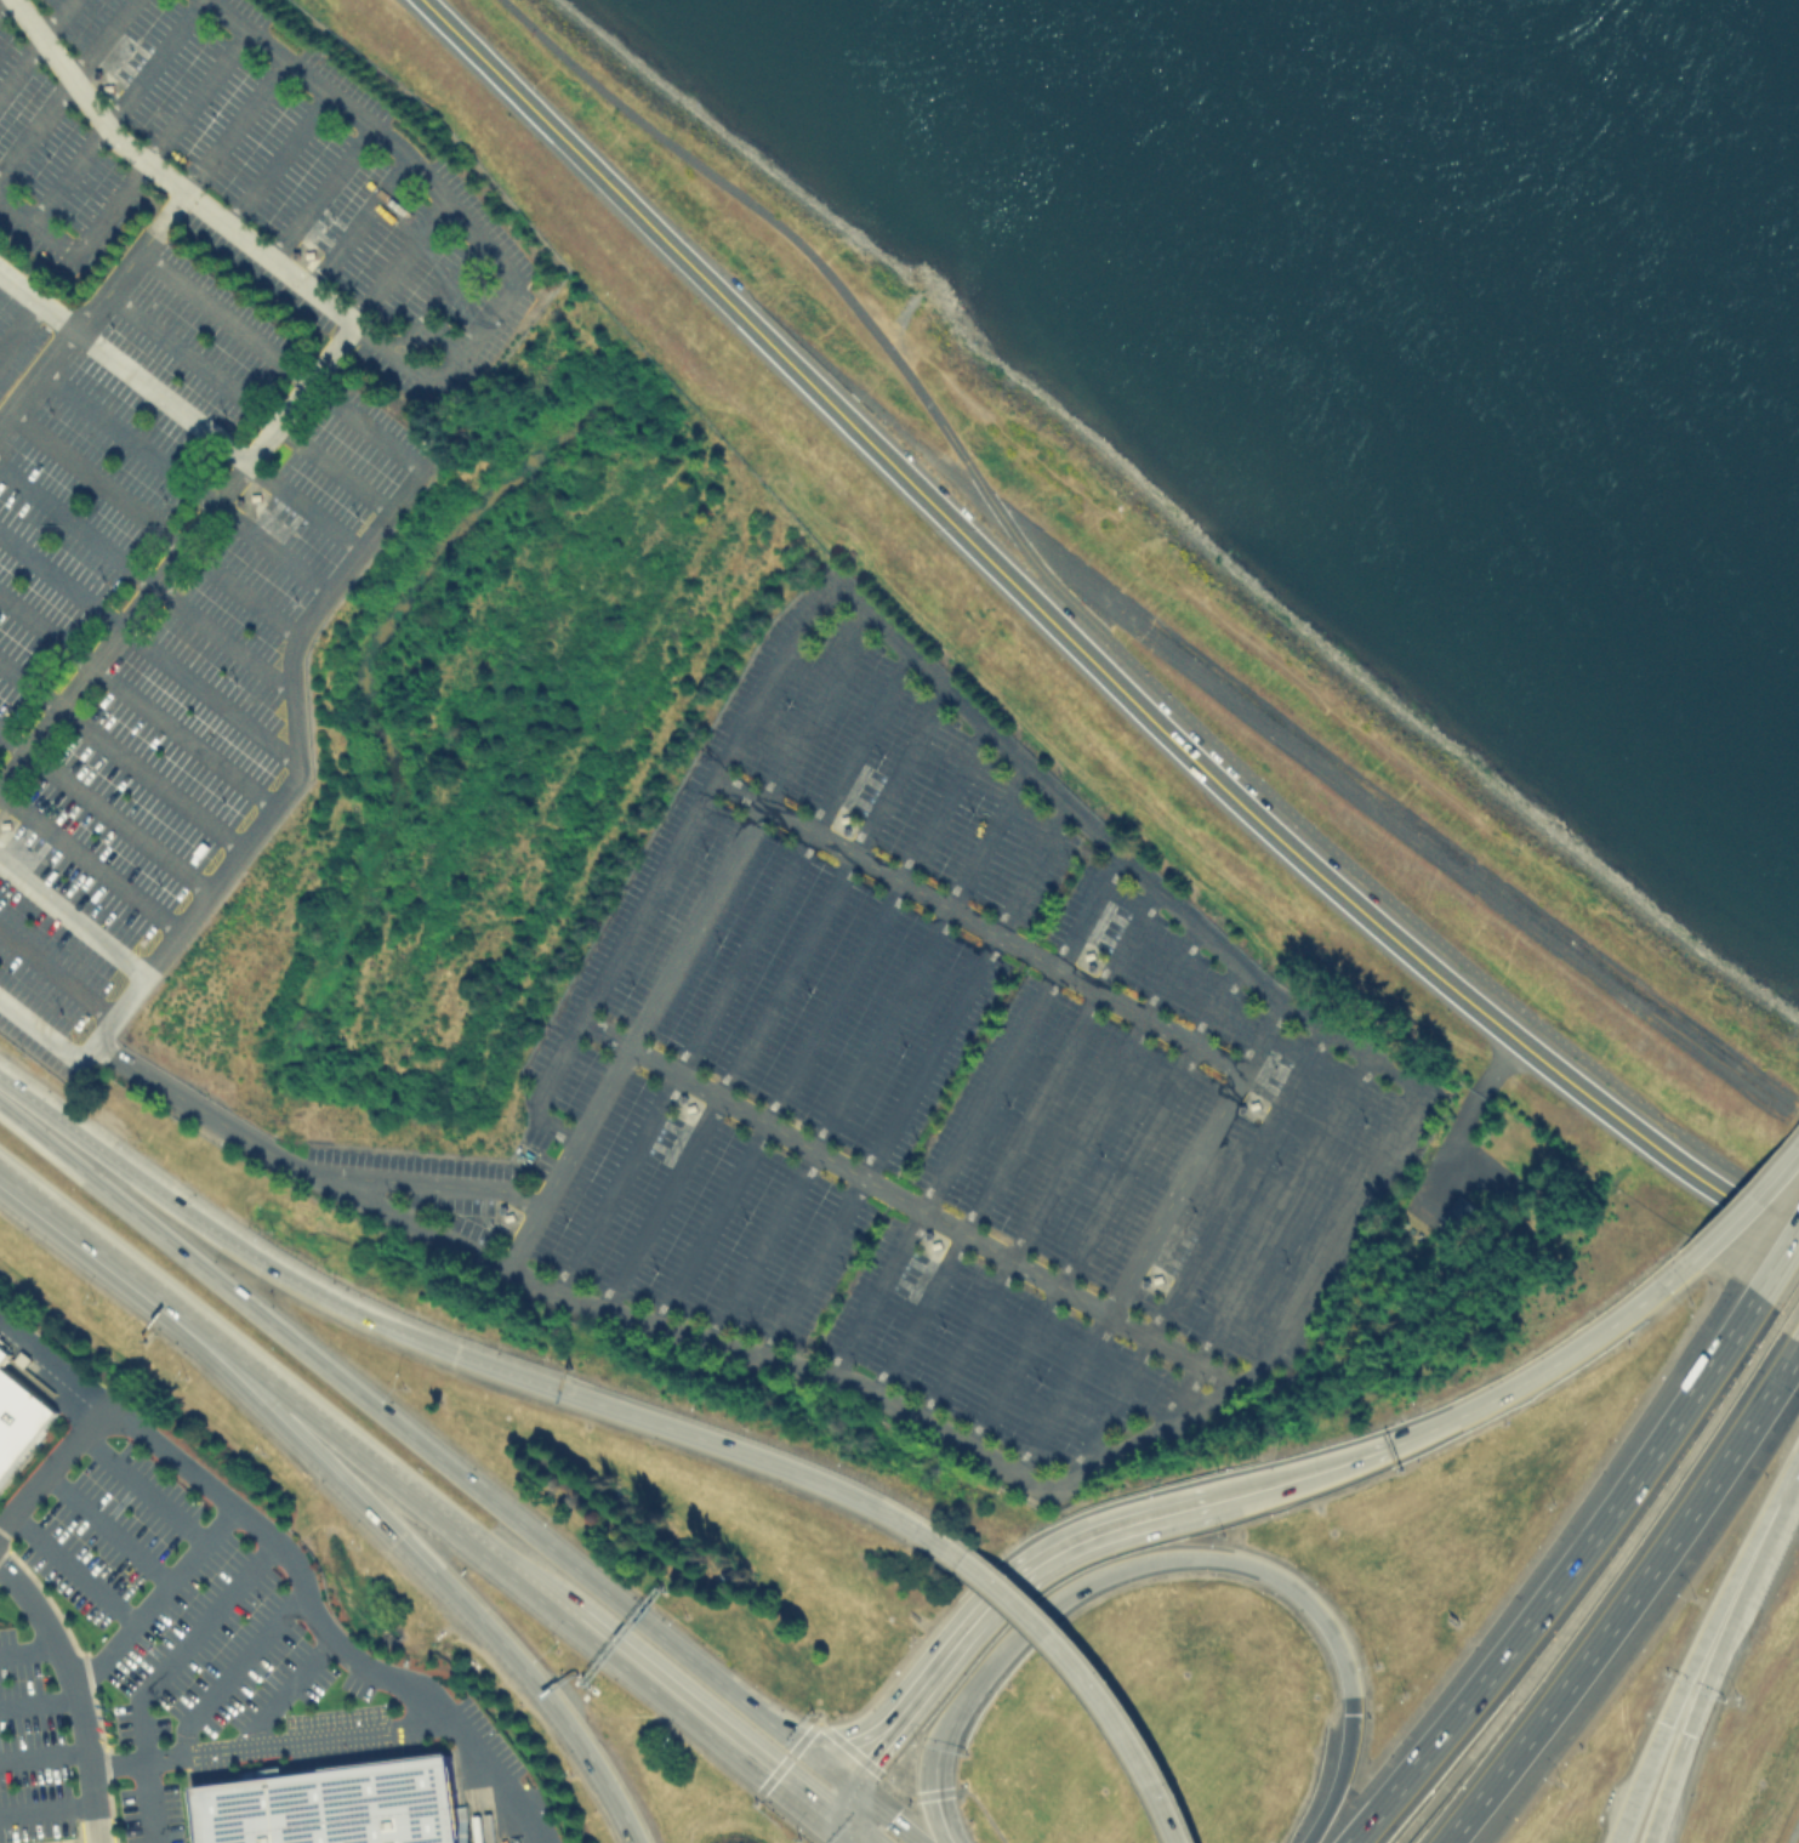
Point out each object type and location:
road: (0, 0)
road: (34, 45)
road: (64, 85)
building: (107, 87)
road: (86, 103)
road: (115, 112)
road: (233, 125)
road: (278, 159)
road: (130, 181)
road: (318, 193)
road: (357, 224)
building: (307, 254)
road: (395, 260)
road: (499, 290)
road: (101, 294)
road: (432, 298)
road: (721, 303)
road: (17, 323)
road: (400, 336)
road: (35, 372)
road: (246, 399)
road: (215, 437)
road: (183, 477)
building: (255, 494)
road: (985, 500)
road: (149, 522)
road: (176, 554)
road: (144, 578)
road: (317, 601)
road: (1112, 644)
road: (147, 648)
road: (135, 701)
road: (814, 709)
parking lot: (154, 729)
road: (119, 756)
road: (102, 812)
building: (843, 819)
building: (4, 823)
road: (1117, 848)
road: (87, 861)
road: (666, 863)
road: (1467, 869)
road: (72, 916)
road: (977, 925)
road: (1397, 943)
building: (1087, 955)
road: (731, 972)
road: (55, 973)
road: (772, 996)
road: (649, 1006)
road: (820, 1024)
road: (1259, 1036)
road: (867, 1051)
road: (912, 1076)
road: (152, 1079)
building: (1252, 1104)
building: (689, 1107)
road: (1475, 1109)
road: (974, 1113)
road: (1014, 1139)
road: (112, 1161)
road: (1058, 1173)
road: (422, 1179)
road: (1750, 1190)
road: (1174, 1193)
road: (901, 1200)
road: (1103, 1206)
road: (1281, 1210)
building: (1459, 1213)
building: (506, 1216)
road: (522, 1239)
road: (1326, 1241)
building: (933, 1245)
road: (1195, 1252)
road: (1780, 1267)
building: (1155, 1279)
road: (148, 1285)
road: (1789, 1296)
road: (1797, 1335)
building: (2, 1354)
road: (53, 1358)
road: (779, 1360)
road: (570, 1394)
road: (1061, 1395)
road: (1179, 1395)
road: (1473, 1409)
building: (18, 1420)
road: (422, 1445)
road: (341, 1460)
road: (52, 1461)
road: (1786, 1469)
road: (140, 1485)
road: (434, 1509)
road: (103, 1525)
road: (411, 1546)
road: (1581, 1558)
road: (69, 1566)
road: (1262, 1568)
road: (1595, 1583)
road: (153, 1593)
road: (1623, 1595)
road: (995, 1597)
road: (1715, 1608)
road: (1729, 1614)
parking lot: (197, 1616)
road: (319, 1622)
road: (28, 1648)
road: (1077, 1667)
road: (230, 1671)
road: (155, 1672)
road: (283, 1689)
road: (75, 1694)
road: (547, 1699)
road: (38, 1702)
traffic signals: (1350, 1712)
road: (951, 1717)
road: (701, 1723)
traffic signals: (1663, 1723)
traffic signals: (1686, 1733)
road: (1683, 1740)
road: (266, 1745)
parking lot: (32, 1747)
road: (853, 1753)
road: (41, 1754)
traffic signals: (867, 1754)
traffic signals: (763, 1773)
road: (1639, 1782)
road: (1663, 1796)
traffic signals: (934, 1798)
road: (839, 1804)
building: (332, 1805)
road: (45, 1808)
road: (1325, 1810)
road: (984, 1811)
parking lot: (149, 1813)
road: (884, 1813)
traffic signals: (890, 1818)
road: (1370, 1826)
road: (1793, 1831)
road: (842, 1833)
road: (66, 1839)

